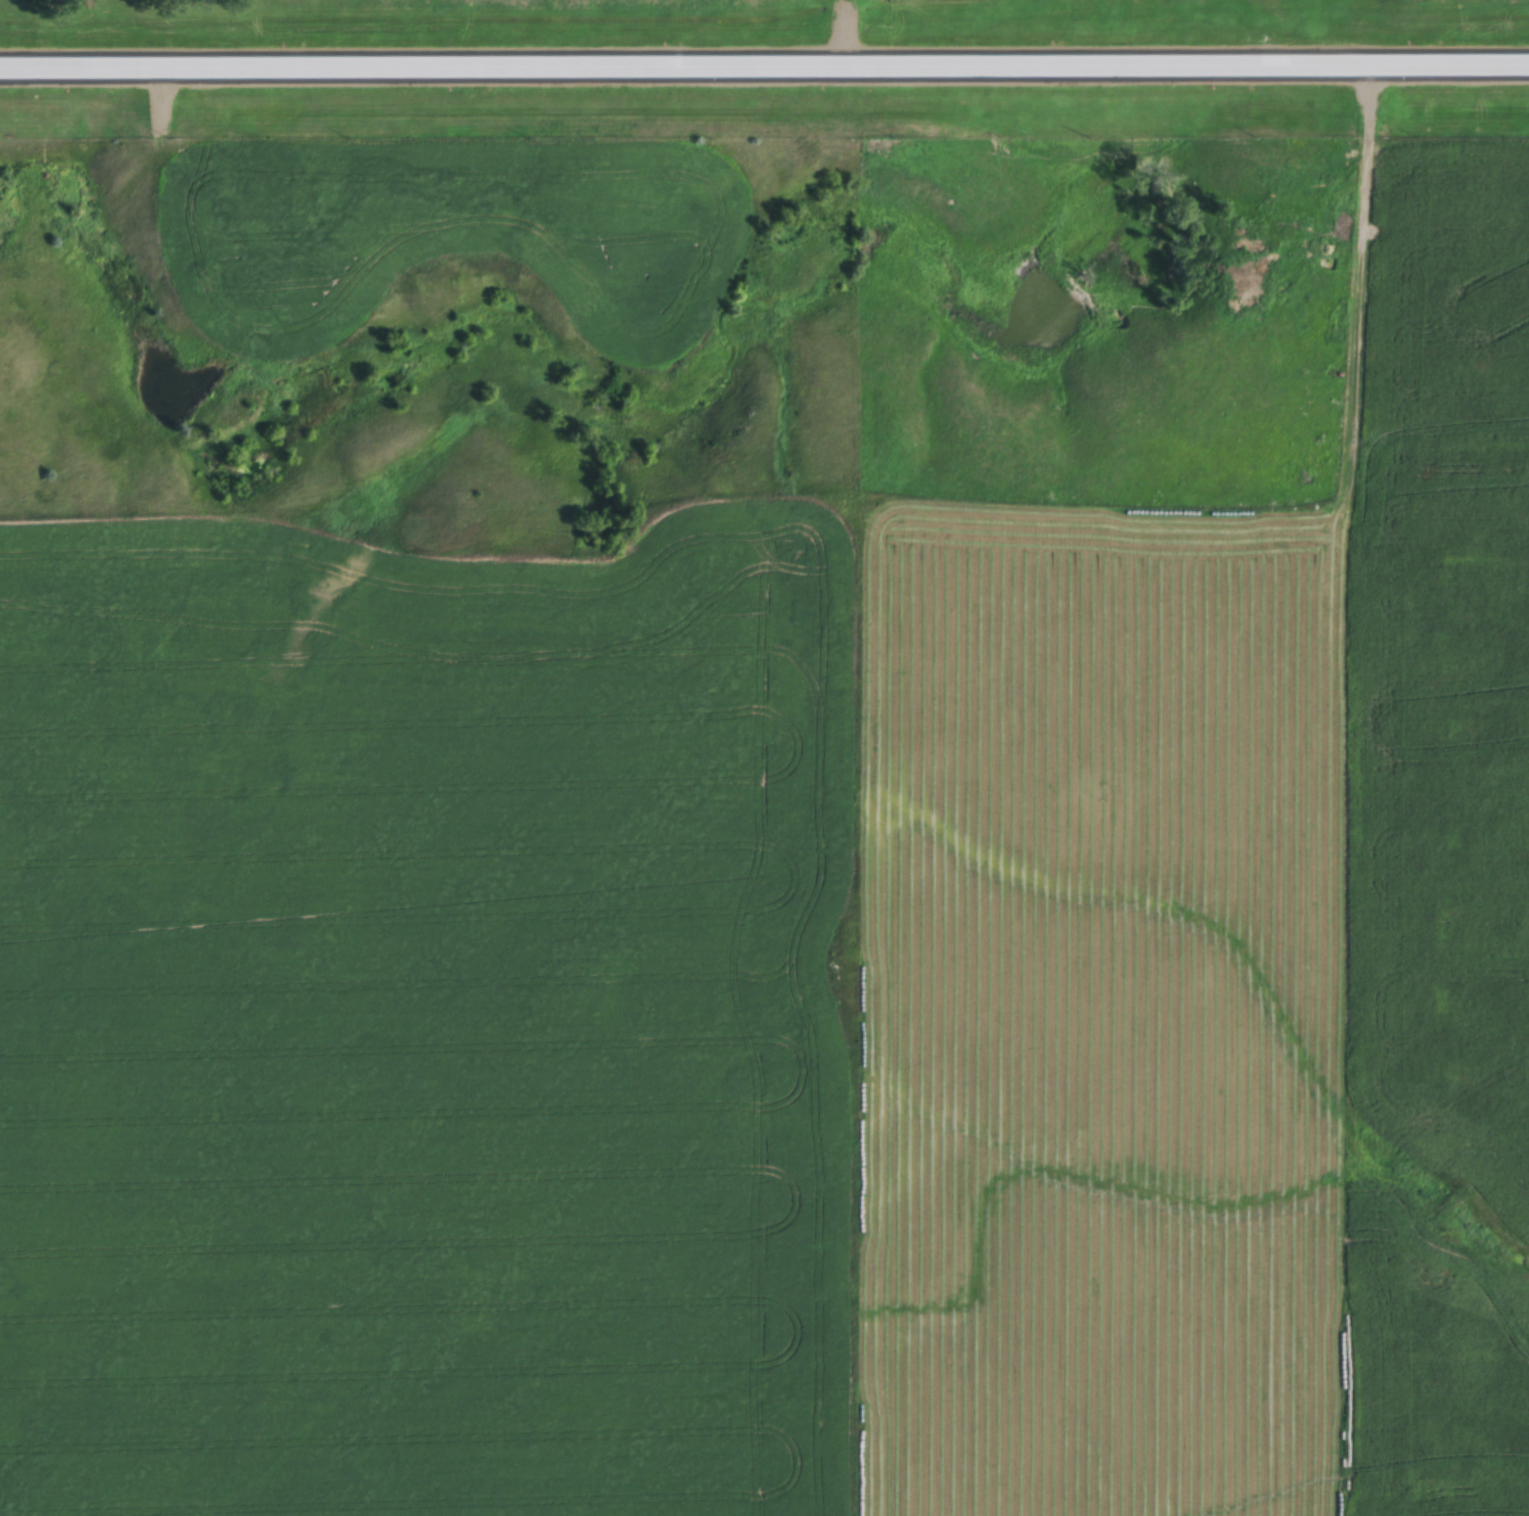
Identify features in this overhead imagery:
road: (764, 64)
river: (977, 316)
river: (129, 340)

